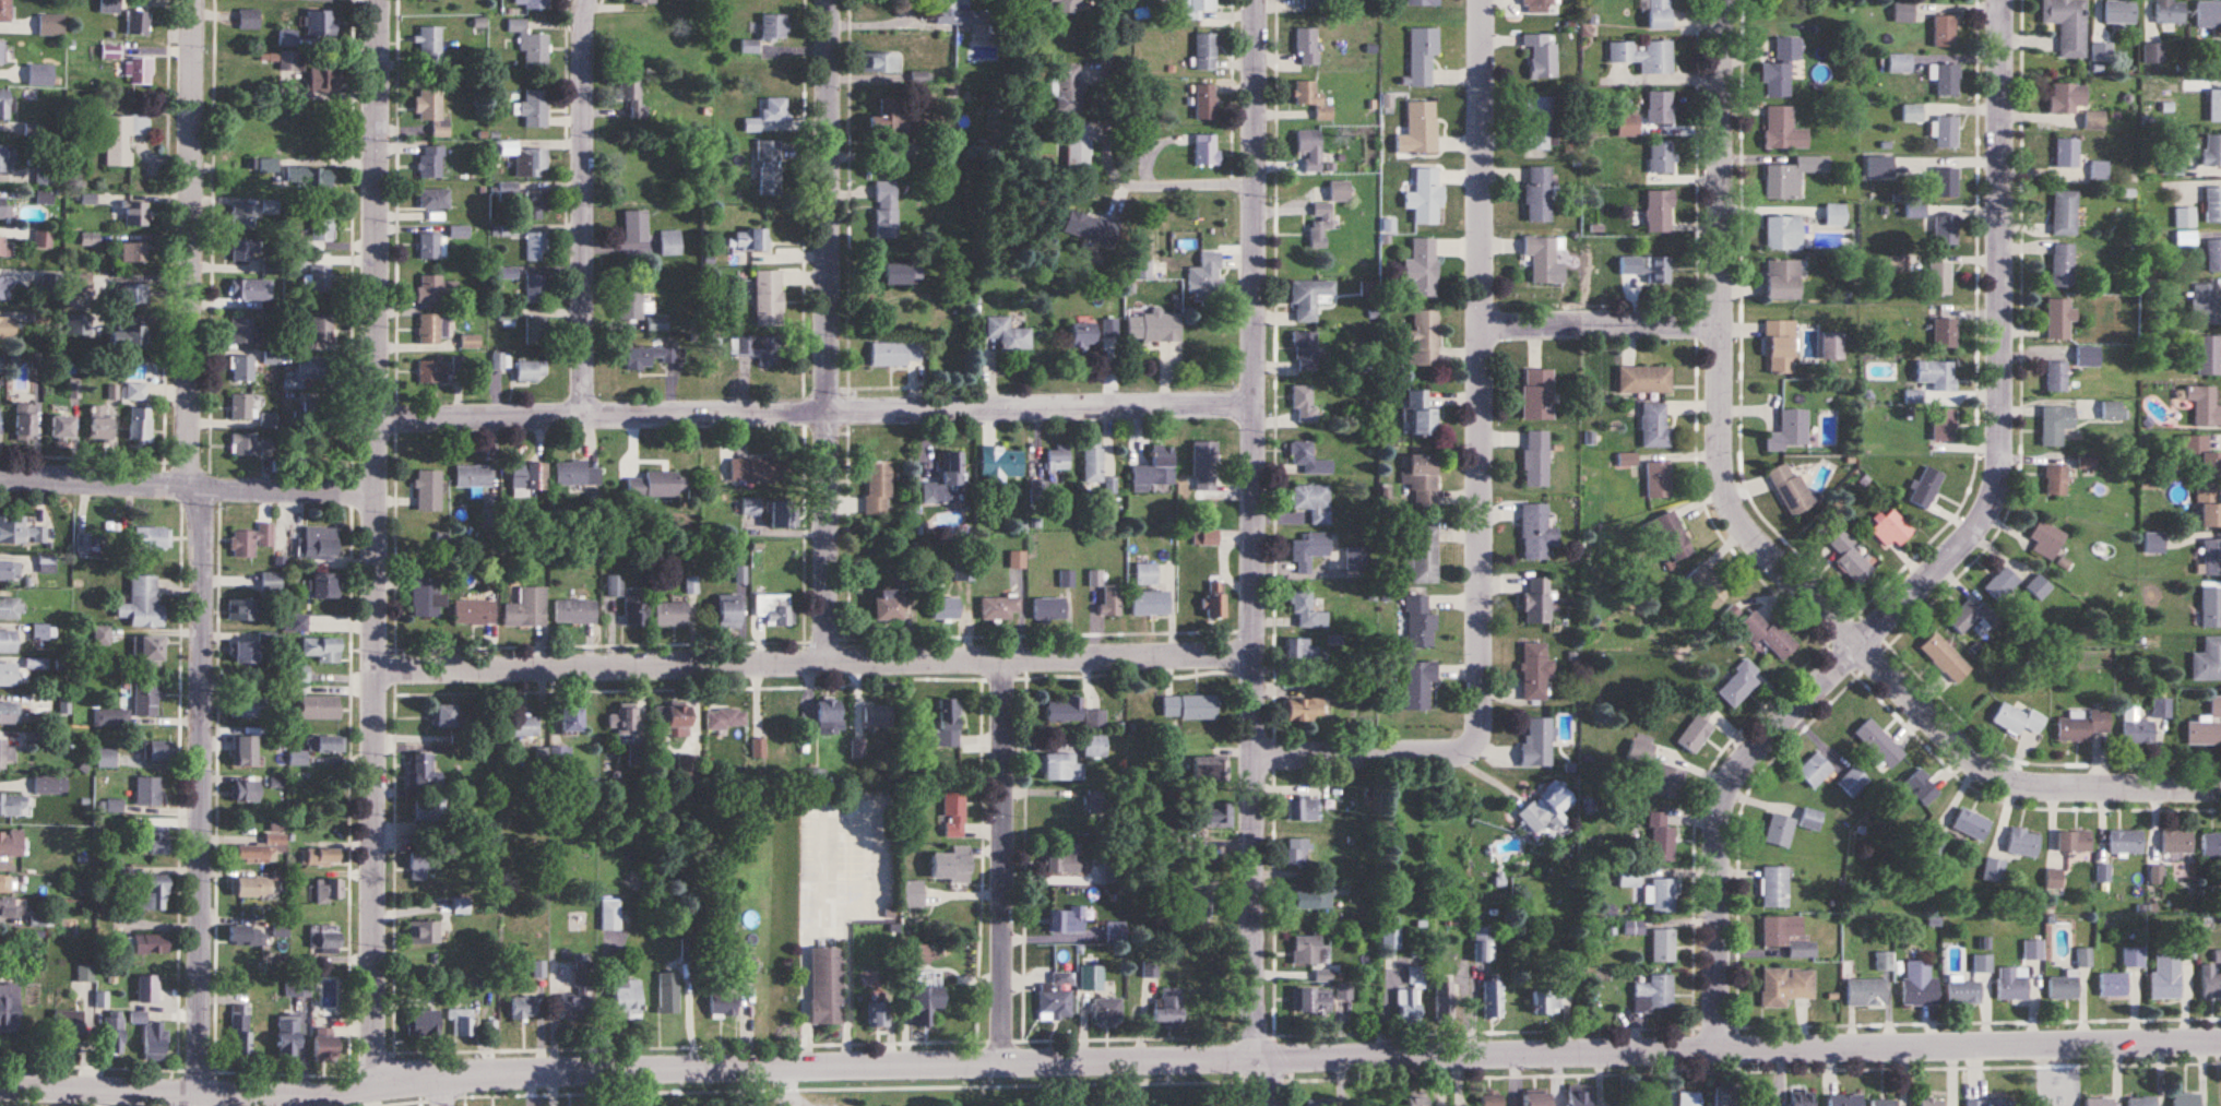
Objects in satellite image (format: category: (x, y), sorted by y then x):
building: (644, 1)
building: (1423, 2)
building: (532, 3)
building: (1315, 3)
building: (1539, 3)
building: (109, 5)
building: (1068, 5)
building: (1196, 8)
building: (5, 11)
building: (2121, 12)
building: (2170, 12)
building: (1904, 13)
building: (960, 14)
building: (1659, 14)
building: (2209, 14)
building: (249, 20)
building: (138, 23)
building: (321, 23)
building: (51, 25)
building: (2068, 25)
building: (774, 27)
building: (1944, 32)
building: (430, 44)
building: (531, 45)
building: (1307, 47)
building: (1205, 51)
building: (2, 52)
building: (111, 52)
building: (2101, 52)
building: (2153, 53)
building: (2216, 53)
building: (1422, 56)
building: (1541, 56)
building: (1643, 56)
building: (288, 61)
building: (880, 63)
building: (1900, 63)
building: (1782, 67)
building: (141, 71)
building: (40, 75)
building: (1946, 79)
building: (324, 81)
building: (1069, 90)
building: (633, 91)
building: (2067, 98)
building: (1313, 100)
building: (1205, 102)
building: (4, 105)
building: (1661, 107)
building: (2214, 107)
building: (534, 108)
building: (775, 110)
building: (431, 112)
building: (1913, 114)
building: (890, 118)
building: (1539, 123)
building: (1628, 126)
building: (1421, 128)
building: (1783, 129)
building: (33, 130)
building: (1947, 133)
building: (122, 138)
building: (1145, 139)
building: (1078, 144)
building: (1310, 148)
building: (1207, 150)
building: (2211, 152)
building: (2066, 153)
road: (1114, 155)
building: (1661, 157)
building: (5, 158)
building: (526, 159)
building: (430, 163)
building: (270, 167)
building: (1879, 167)
building: (769, 168)
building: (2099, 170)
building: (44, 176)
building: (1793, 177)
building: (309, 178)
building: (1946, 183)
building: (1340, 191)
building: (1539, 195)
building: (43, 198)
building: (1426, 198)
building: (433, 199)
building: (536, 204)
road: (586, 204)
building: (2212, 205)
building: (3, 207)
building: (886, 211)
building: (1660, 212)
building: (134, 214)
building: (1836, 214)
building: (2064, 214)
building: (242, 217)
building: (636, 226)
building: (1320, 226)
building: (322, 227)
building: (1091, 227)
building: (1945, 230)
building: (1783, 233)
building: (44, 239)
building: (750, 240)
building: (670, 242)
building: (430, 247)
building: (536, 247)
building: (5, 248)
building: (246, 251)
building: (132, 252)
building: (2213, 254)
building: (1542, 259)
building: (2063, 265)
building: (1422, 269)
building: (1648, 269)
building: (1139, 271)
building: (509, 274)
building: (901, 275)
building: (321, 278)
building: (1207, 278)
building: (1938, 278)
building: (1783, 280)
building: (4, 286)
building: (251, 289)
building: (433, 289)
building: (536, 289)
building: (133, 294)
building: (769, 298)
building: (1309, 298)
building: (630, 304)
building: (2206, 305)
building: (2058, 319)
road: (1602, 321)
building: (657, 322)
building: (79, 325)
building: (7, 328)
building: (1153, 328)
building: (1109, 329)
building: (321, 330)
building: (429, 330)
building: (241, 331)
building: (536, 331)
road: (830, 331)
building: (1944, 333)
building: (1083, 334)
building: (129, 335)
building: (1009, 335)
building: (1423, 340)
building: (471, 342)
building: (1779, 346)
building: (1832, 346)
building: (756, 348)
building: (1305, 350)
building: (898, 354)
building: (649, 356)
building: (2087, 356)
building: (2208, 356)
building: (499, 361)
building: (0, 364)
building: (241, 368)
building: (307, 369)
building: (531, 371)
building: (431, 372)
building: (1936, 374)
building: (2056, 377)
building: (1644, 380)
building: (135, 392)
building: (1537, 395)
building: (1305, 403)
building: (240, 406)
building: (2205, 406)
road: (818, 413)
building: (1422, 415)
building: (25, 423)
building: (99, 424)
building: (140, 424)
building: (2055, 424)
building: (1943, 425)
building: (1655, 426)
building: (62, 427)
building: (1789, 431)
building: (244, 445)
building: (2198, 457)
building: (1309, 459)
building: (1536, 459)
building: (2086, 461)
building: (1058, 462)
building: (1001, 463)
building: (1093, 463)
building: (1204, 463)
building: (752, 469)
building: (1156, 472)
building: (575, 474)
building: (473, 476)
building: (528, 477)
road: (1483, 478)
building: (1422, 479)
road: (187, 480)
building: (1658, 480)
building: (2055, 480)
building: (946, 484)
building: (657, 485)
building: (878, 488)
building: (1925, 488)
building: (428, 491)
building: (1791, 491)
building: (1314, 501)
building: (2208, 509)
building: (781, 515)
building: (1891, 530)
building: (20, 531)
building: (1536, 533)
building: (1673, 537)
building: (151, 538)
building: (1205, 538)
building: (2046, 539)
building: (252, 540)
road: (375, 540)
building: (318, 544)
road: (1761, 544)
building: (2154, 544)
building: (1308, 551)
road: (199, 552)
road: (1257, 552)
building: (1424, 555)
building: (1356, 558)
building: (2212, 558)
building: (1850, 559)
road: (1943, 560)
building: (1018, 561)
building: (10, 571)
building: (1147, 574)
building: (271, 581)
building: (2002, 584)
building: (615, 586)
building: (325, 587)
building: (1706, 587)
building: (2039, 587)
building: (1107, 596)
building: (427, 597)
building: (1215, 600)
building: (1536, 600)
building: (142, 604)
building: (1151, 604)
building: (888, 606)
building: (526, 608)
building: (775, 608)
building: (1000, 608)
building: (2211, 608)
building: (9, 609)
building: (1049, 609)
building: (245, 610)
building: (634, 610)
building: (946, 610)
building: (575, 611)
building: (728, 611)
building: (1306, 611)
building: (474, 613)
building: (672, 615)
building: (1971, 617)
building: (296, 623)
building: (1420, 623)
building: (1769, 637)
building: (8, 642)
building: (322, 650)
building: (1302, 650)
building: (149, 651)
building: (245, 653)
building: (1945, 658)
building: (2208, 661)
road: (816, 663)
building: (37, 664)
building: (1535, 670)
building: (9, 675)
building: (299, 677)
building: (1418, 685)
building: (1738, 685)
building: (145, 700)
building: (41, 702)
building: (248, 706)
building: (319, 707)
building: (1190, 707)
building: (1304, 710)
building: (1062, 711)
building: (9, 714)
building: (444, 716)
building: (878, 716)
building: (111, 717)
building: (673, 717)
building: (829, 717)
building: (621, 718)
building: (726, 718)
building: (1095, 720)
building: (2017, 720)
building: (571, 721)
building: (775, 721)
building: (948, 723)
building: (2082, 725)
building: (2206, 725)
building: (524, 727)
building: (2137, 728)
building: (1697, 729)
building: (1537, 742)
building: (1879, 744)
building: (326, 745)
building: (1094, 746)
building: (858, 748)
building: (156, 750)
building: (247, 751)
building: (5, 754)
building: (636, 754)
building: (561, 757)
building: (106, 758)
building: (298, 758)
building: (1059, 768)
building: (1210, 770)
building: (1814, 771)
building: (1655, 772)
building: (423, 773)
building: (1853, 782)
building: (50, 784)
building: (1921, 788)
building: (147, 790)
building: (246, 792)
building: (1096, 798)
building: (12, 806)
building: (1300, 808)
building: (1545, 808)
building: (425, 811)
building: (953, 814)
building: (1212, 816)
building: (1810, 819)
building: (1971, 824)
building: (1779, 831)
building: (1660, 837)
building: (157, 840)
building: (2074, 841)
building: (2125, 841)
building: (2177, 842)
building: (10, 843)
building: (2023, 843)
building: (1934, 844)
building: (2211, 845)
building: (259, 851)
building: (1297, 853)
building: (321, 856)
road: (1008, 860)
building: (1065, 860)
building: (951, 864)
building: (421, 866)
building: (1995, 871)
building: (2103, 873)
building: (1629, 878)
building: (4, 884)
building: (253, 887)
building: (1774, 887)
building: (331, 891)
building: (913, 893)
building: (153, 894)
building: (1662, 895)
building: (1311, 901)
building: (1189, 902)
building: (9, 908)
building: (611, 916)
building: (1068, 920)
building: (1634, 927)
building: (1115, 932)
building: (424, 933)
building: (247, 936)
building: (1786, 937)
building: (324, 938)
building: (1391, 939)
building: (151, 943)
building: (1484, 943)
building: (1663, 946)
building: (2032, 950)
building: (1309, 951)
building: (919, 955)
building: (1091, 968)
building: (1150, 971)
building: (85, 973)
building: (1417, 976)
building: (2165, 977)
building: (2210, 983)
building: (2012, 984)
building: (1920, 985)
building: (2114, 985)
building: (826, 986)
building: (1788, 988)
building: (2064, 988)
building: (1344, 991)
building: (1964, 992)
building: (1654, 994)
building: (1866, 994)
building: (668, 995)
building: (579, 996)
building: (628, 998)
building: (1493, 1000)
building: (1546, 1001)
building: (1054, 1002)
building: (1311, 1002)
building: (1444, 1003)
building: (9, 1004)
building: (724, 1006)
building: (924, 1006)
building: (1408, 1006)
building: (1168, 1007)
building: (524, 1008)
road: (1465, 1008)
building: (1107, 1012)
building: (879, 1015)
building: (462, 1023)
building: (423, 1024)
building: (240, 1030)
building: (67, 1031)
building: (111, 1032)
building: (152, 1036)
building: (287, 1036)
building: (324, 1044)
road: (1332, 1053)
road: (785, 1086)
road: (444, 1089)
road: (224, 1090)
building: (1579, 1095)
building: (1725, 1096)
building: (1490, 1097)
building: (1537, 1097)
building: (1802, 1097)
building: (1416, 1098)
building: (1688, 1098)
building: (1844, 1099)
building: (2142, 1101)
building: (2186, 1101)
building: (1931, 1102)
building: (2100, 1102)
building: (1884, 1103)
building: (1991, 1103)

